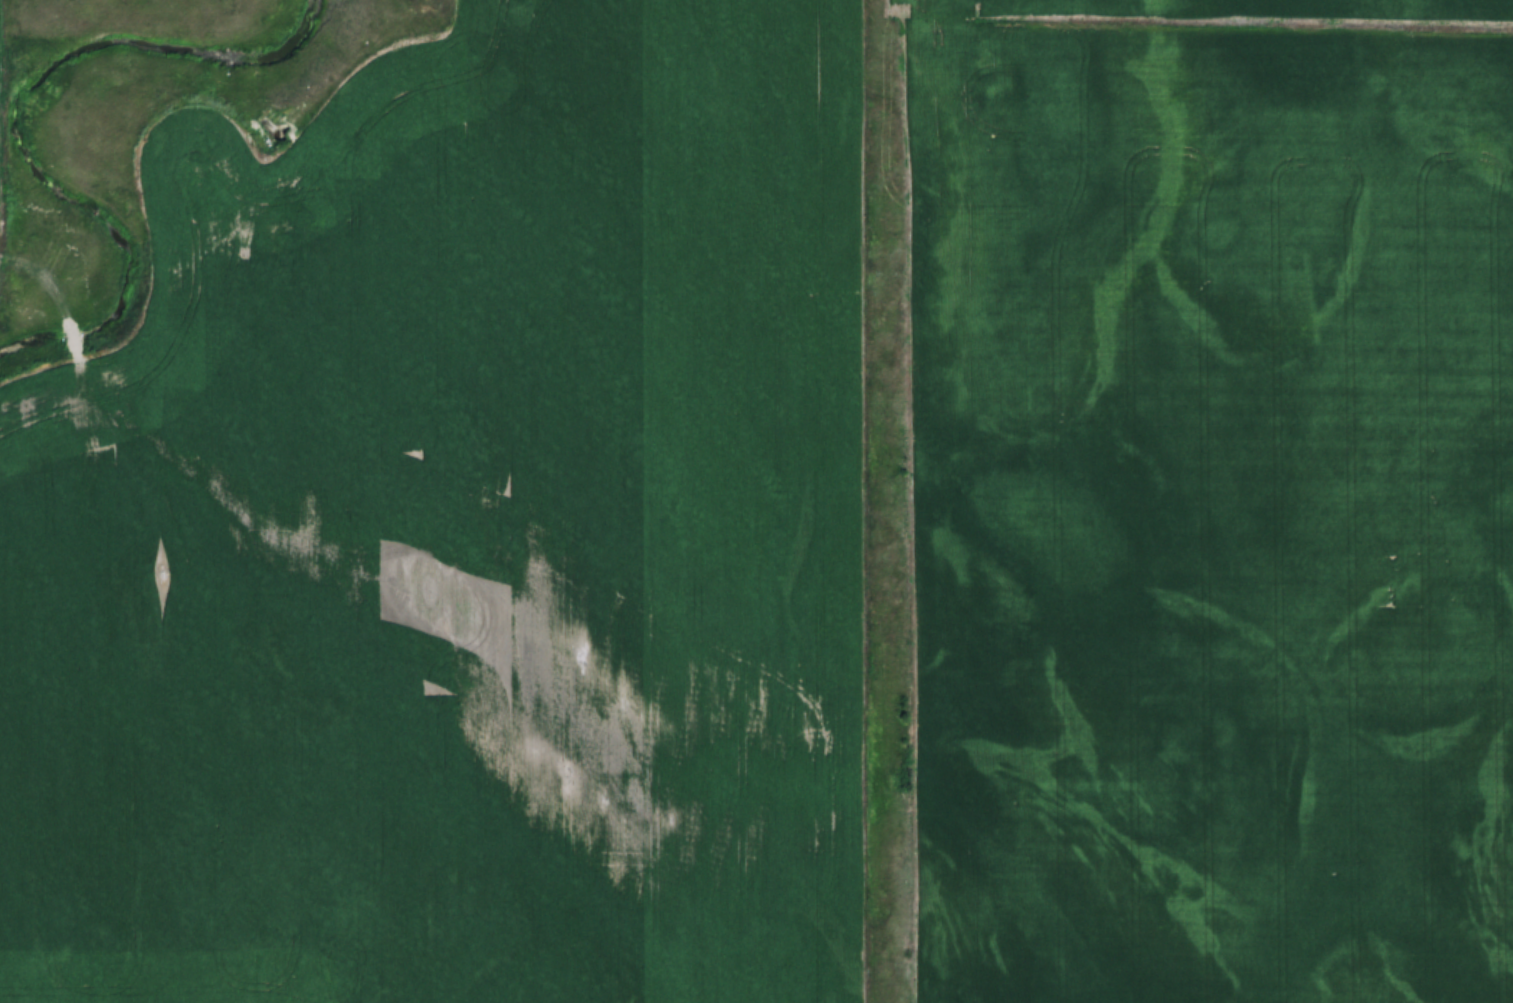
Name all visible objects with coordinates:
crop: (460, 538)

